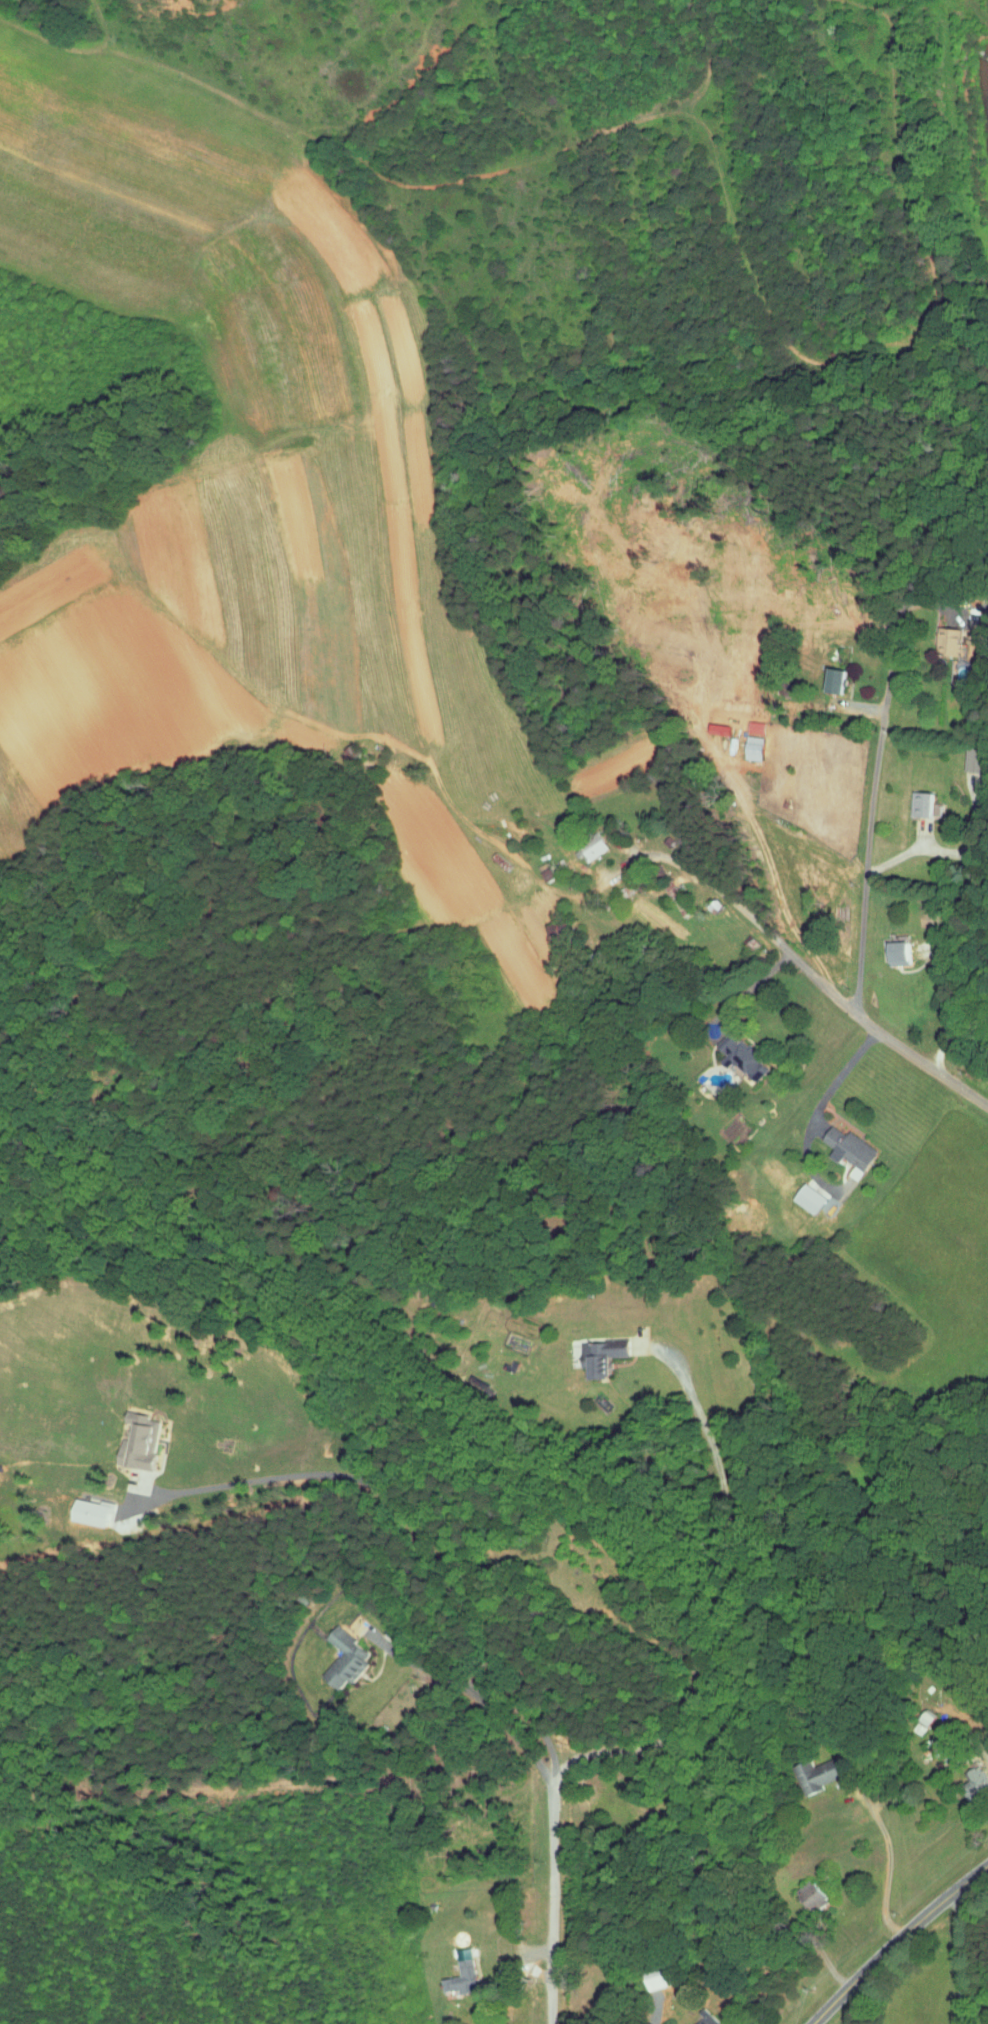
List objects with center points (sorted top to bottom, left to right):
building: (942, 633)
building: (831, 674)
building: (750, 718)
building: (746, 742)
building: (966, 755)
building: (918, 798)
road: (872, 817)
building: (584, 843)
road: (655, 854)
building: (893, 947)
road: (751, 983)
road: (846, 1004)
road: (950, 1015)
road: (842, 1065)
building: (842, 1142)
building: (845, 1166)
building: (596, 1351)
building: (134, 1437)
road: (313, 1473)
building: (86, 1507)
road: (707, 1585)
building: (339, 1653)
road: (465, 1686)
building: (810, 1769)
building: (969, 1775)
road: (546, 1786)
road: (888, 1861)
building: (806, 1889)
road: (896, 1940)
road: (958, 1959)
building: (454, 1973)
building: (700, 2017)

